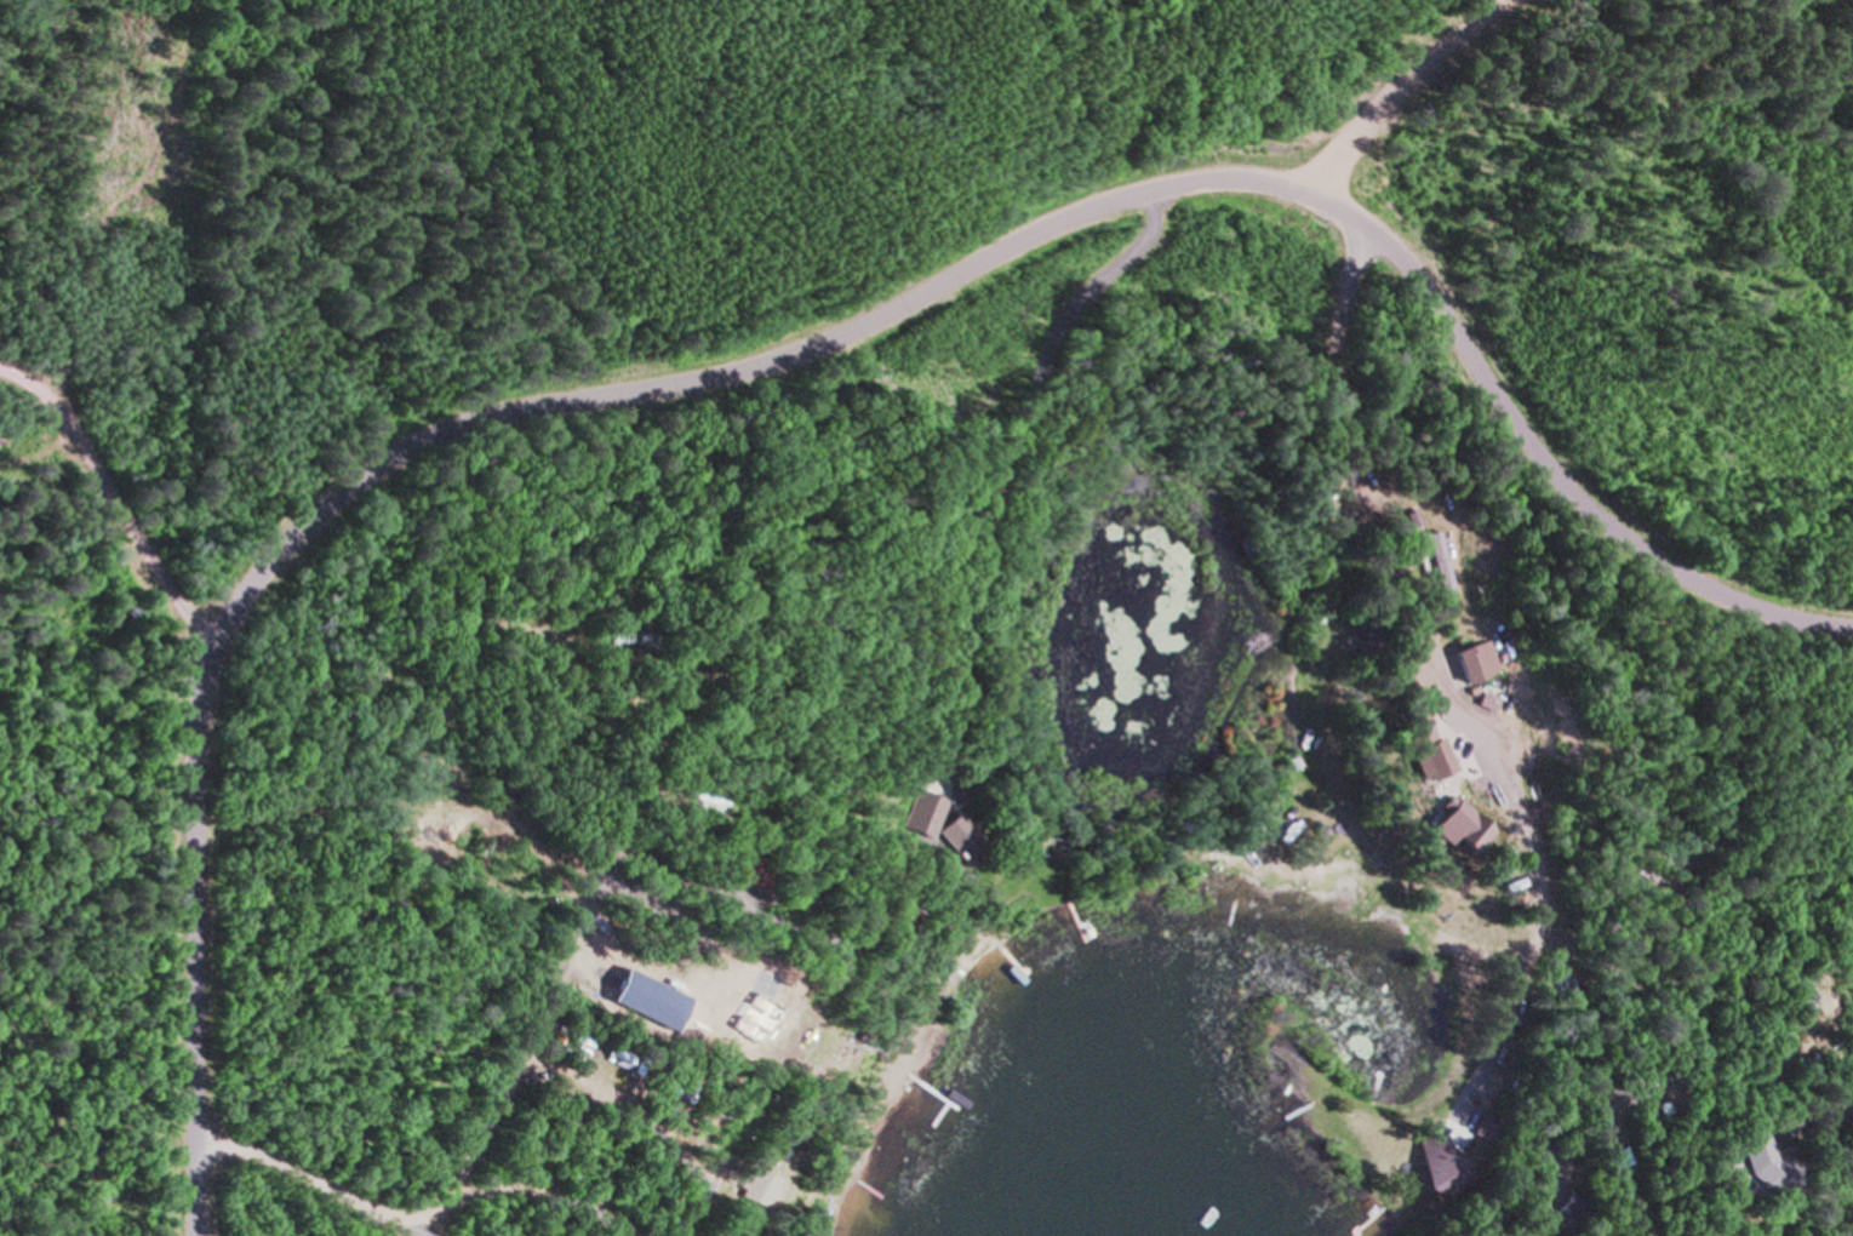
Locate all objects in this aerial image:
road: (1402, 84)
road: (1334, 216)
road: (437, 424)
road: (1567, 490)
road: (108, 500)
building: (1397, 516)
building: (1437, 551)
building: (1424, 560)
building: (1357, 631)
building: (618, 636)
building: (1499, 646)
building: (1465, 660)
road: (1435, 694)
building: (1479, 700)
building: (1416, 750)
building: (1283, 761)
building: (909, 811)
building: (1339, 817)
building: (1448, 823)
building: (944, 836)
building: (1640, 870)
building: (743, 871)
building: (793, 881)
building: (1503, 882)
building: (887, 910)
building: (1054, 915)
building: (1001, 966)
building: (1031, 1001)
building: (850, 1032)
building: (1489, 1071)
building: (708, 1093)
building: (1645, 1108)
building: (1745, 1160)
building: (748, 1189)
building: (1552, 1202)
road: (1836, 1218)
building: (1504, 1234)

